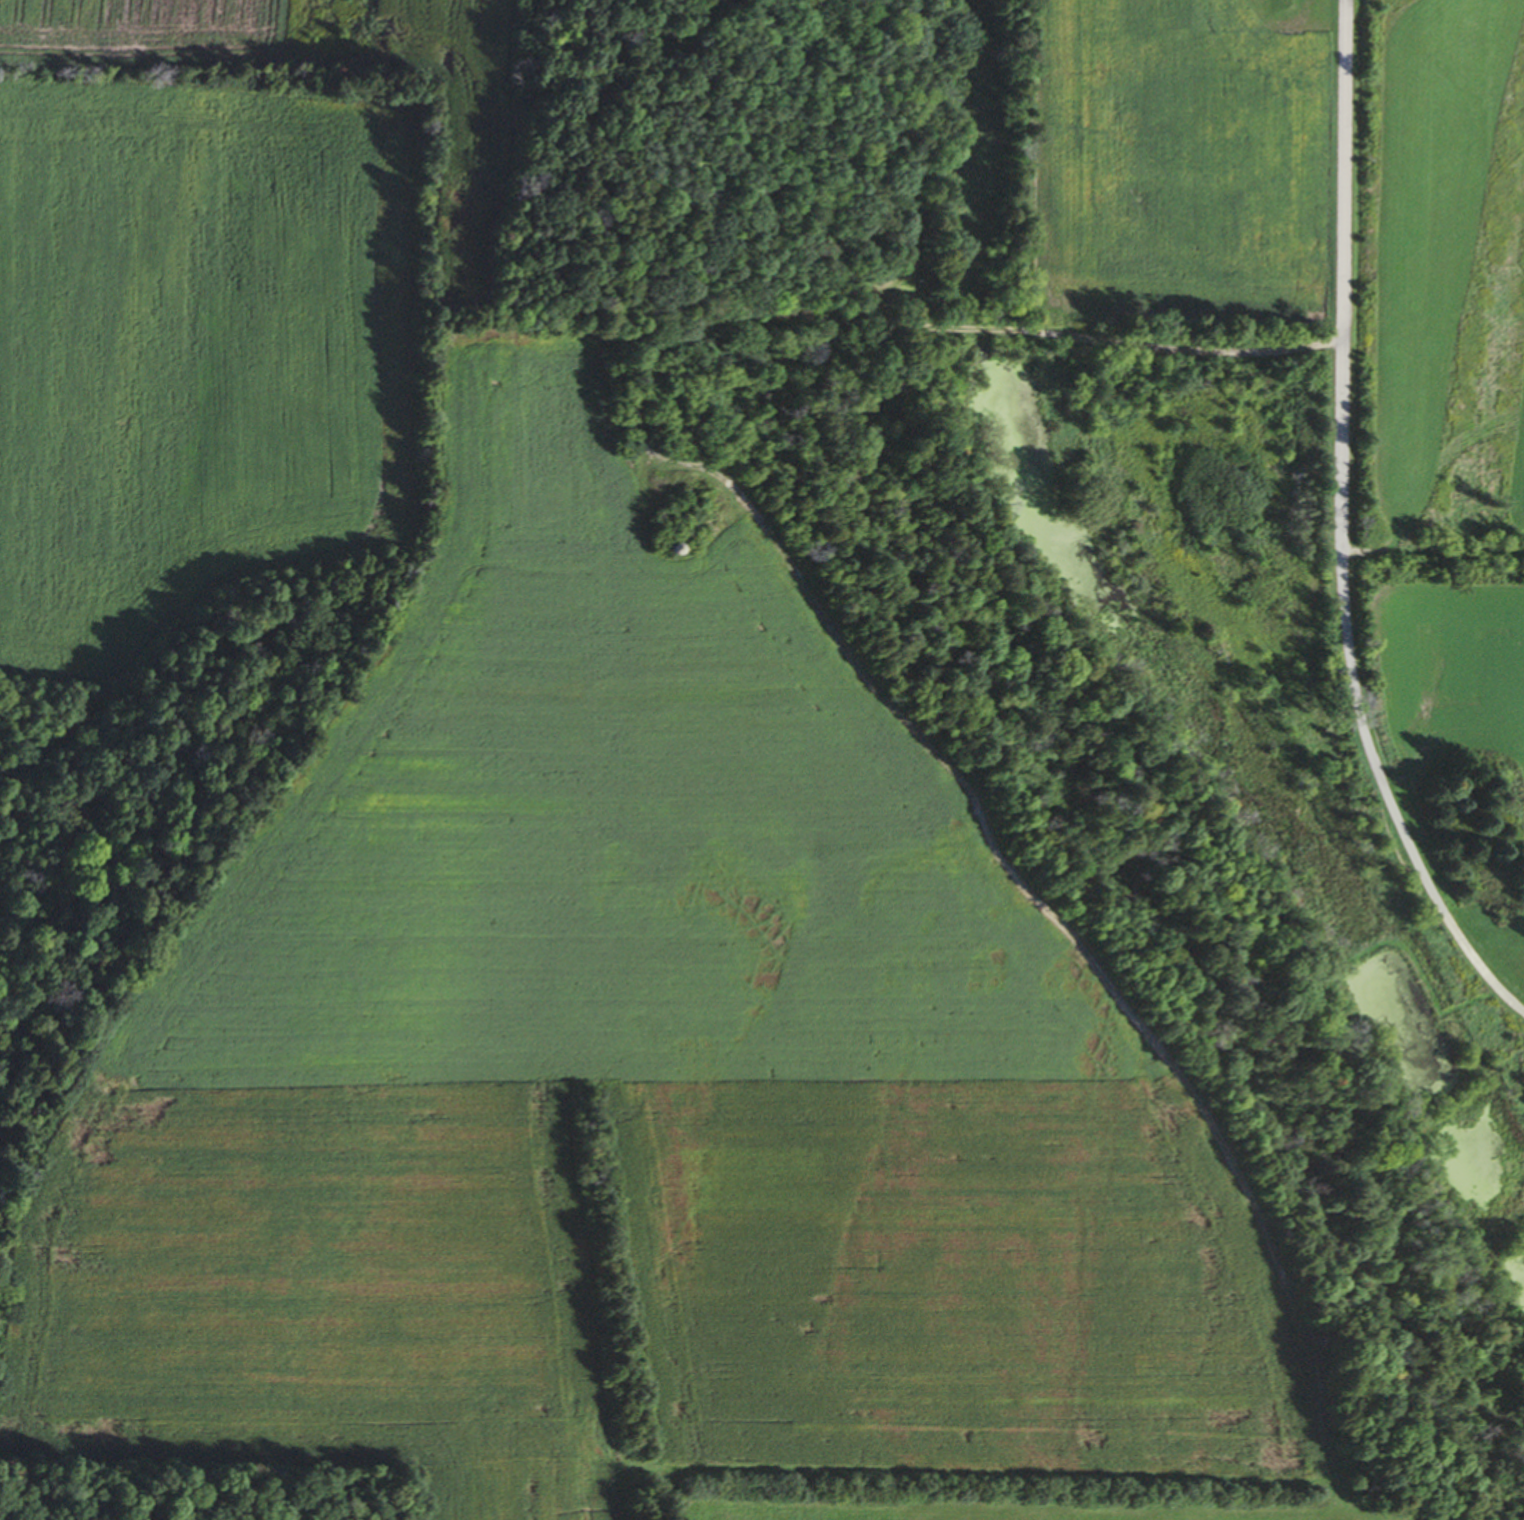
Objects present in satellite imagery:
road: (1346, 277)
road: (1390, 800)

